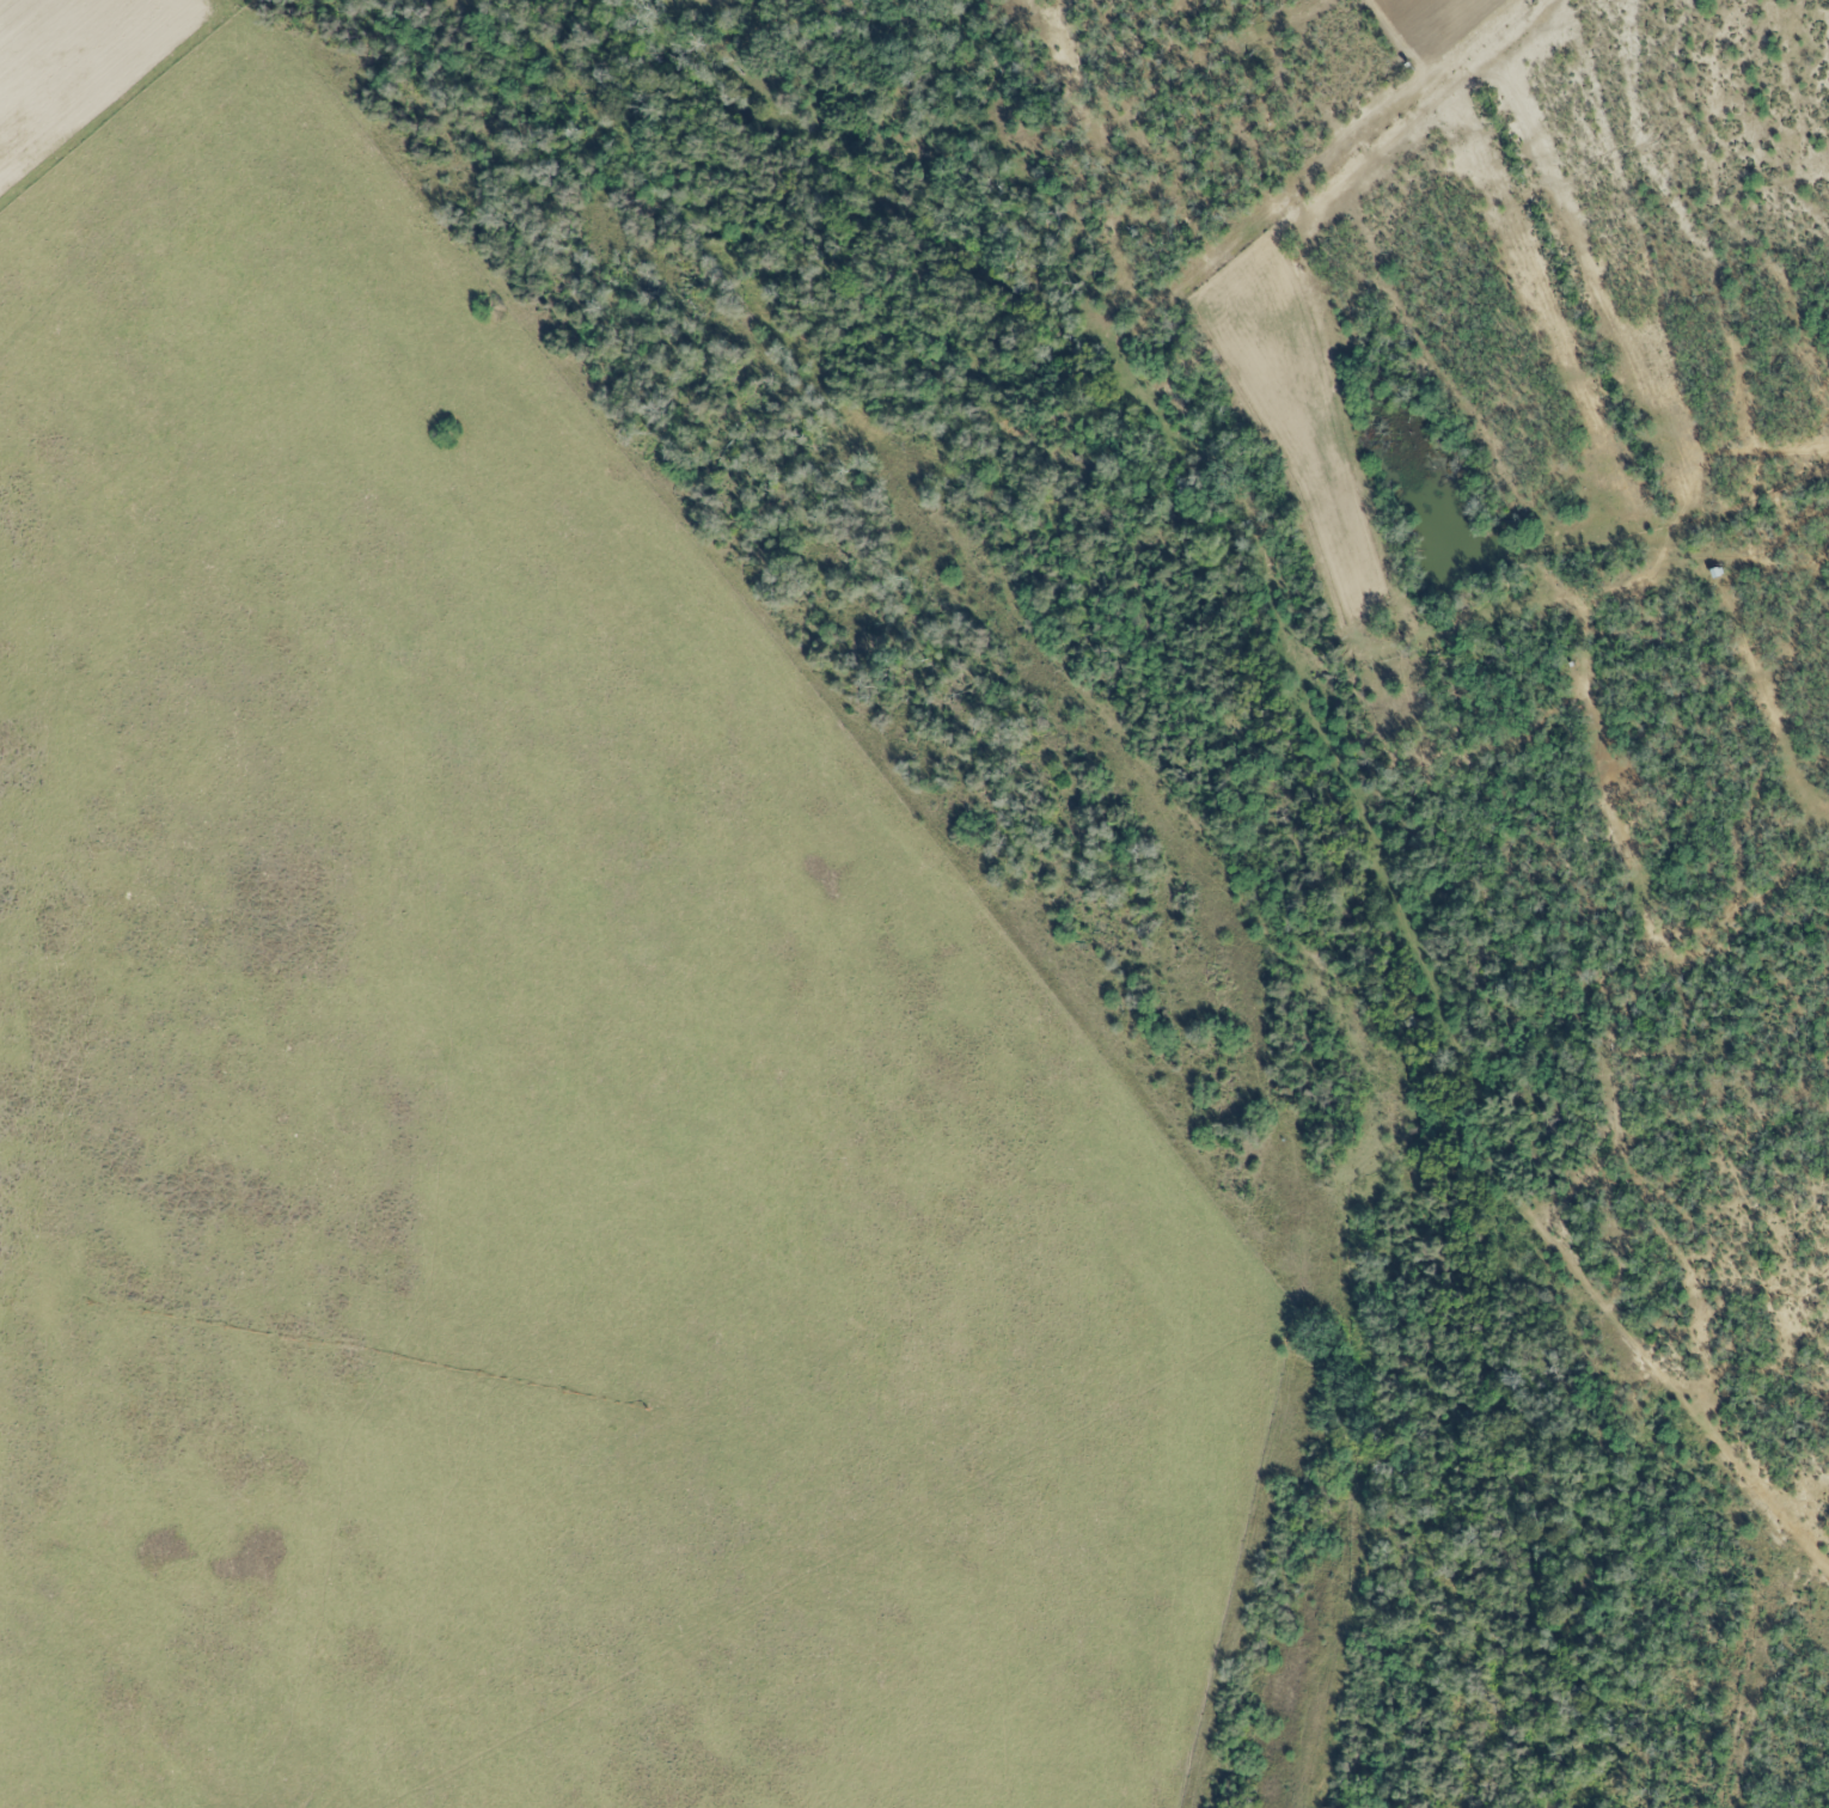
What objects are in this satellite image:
river: (722, 93)
river: (1244, 586)
river: (1495, 1455)

